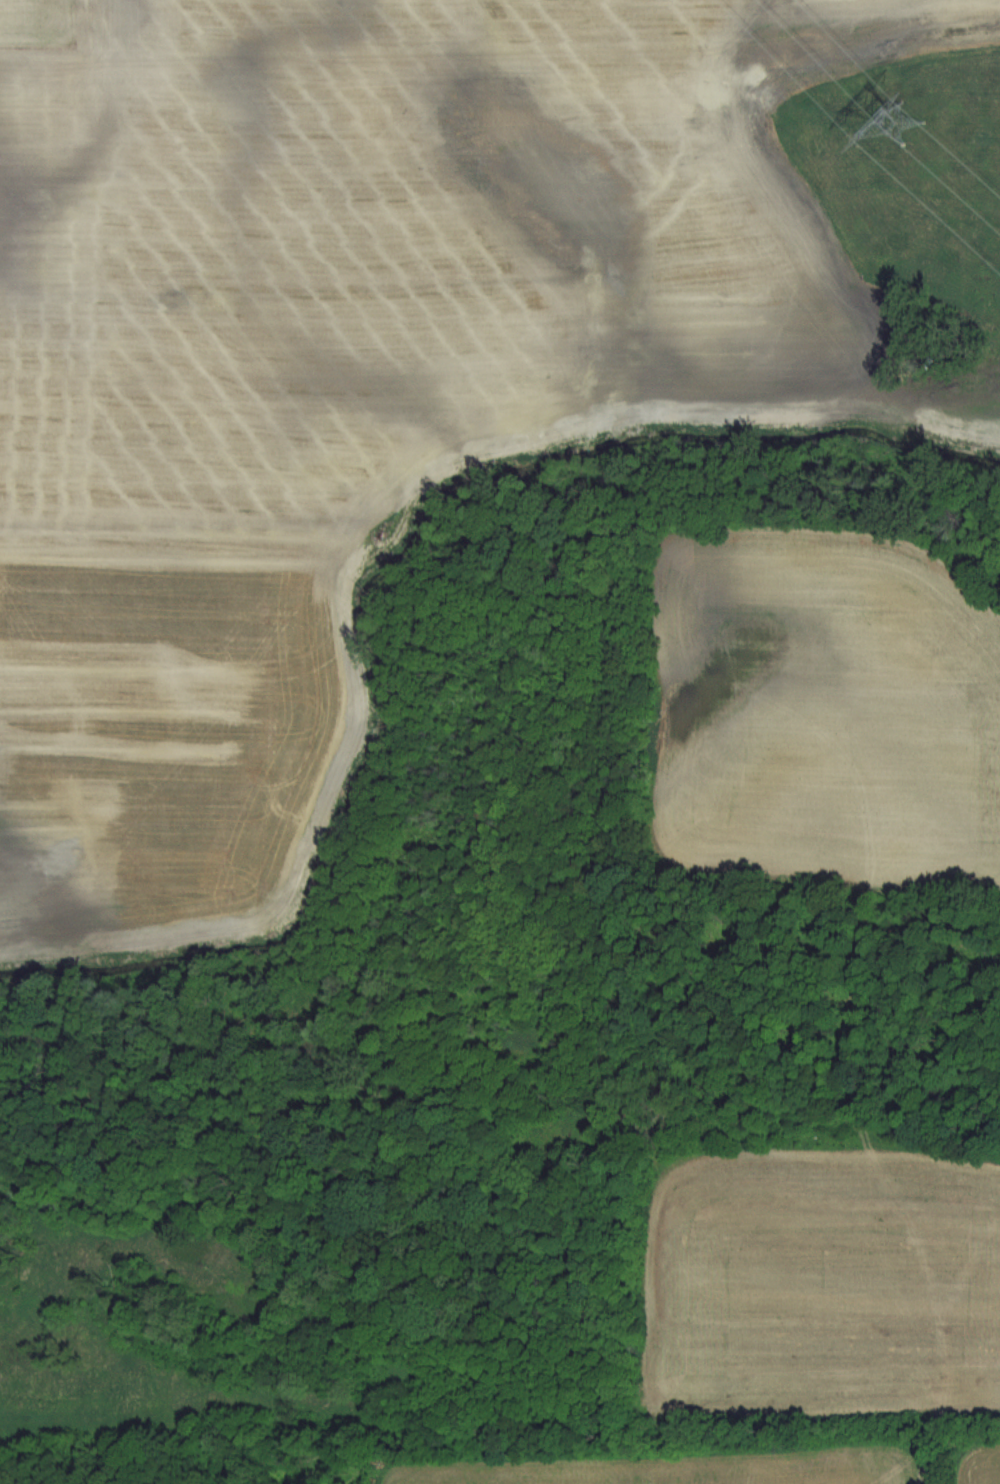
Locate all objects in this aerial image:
power tower: (900, 122)

